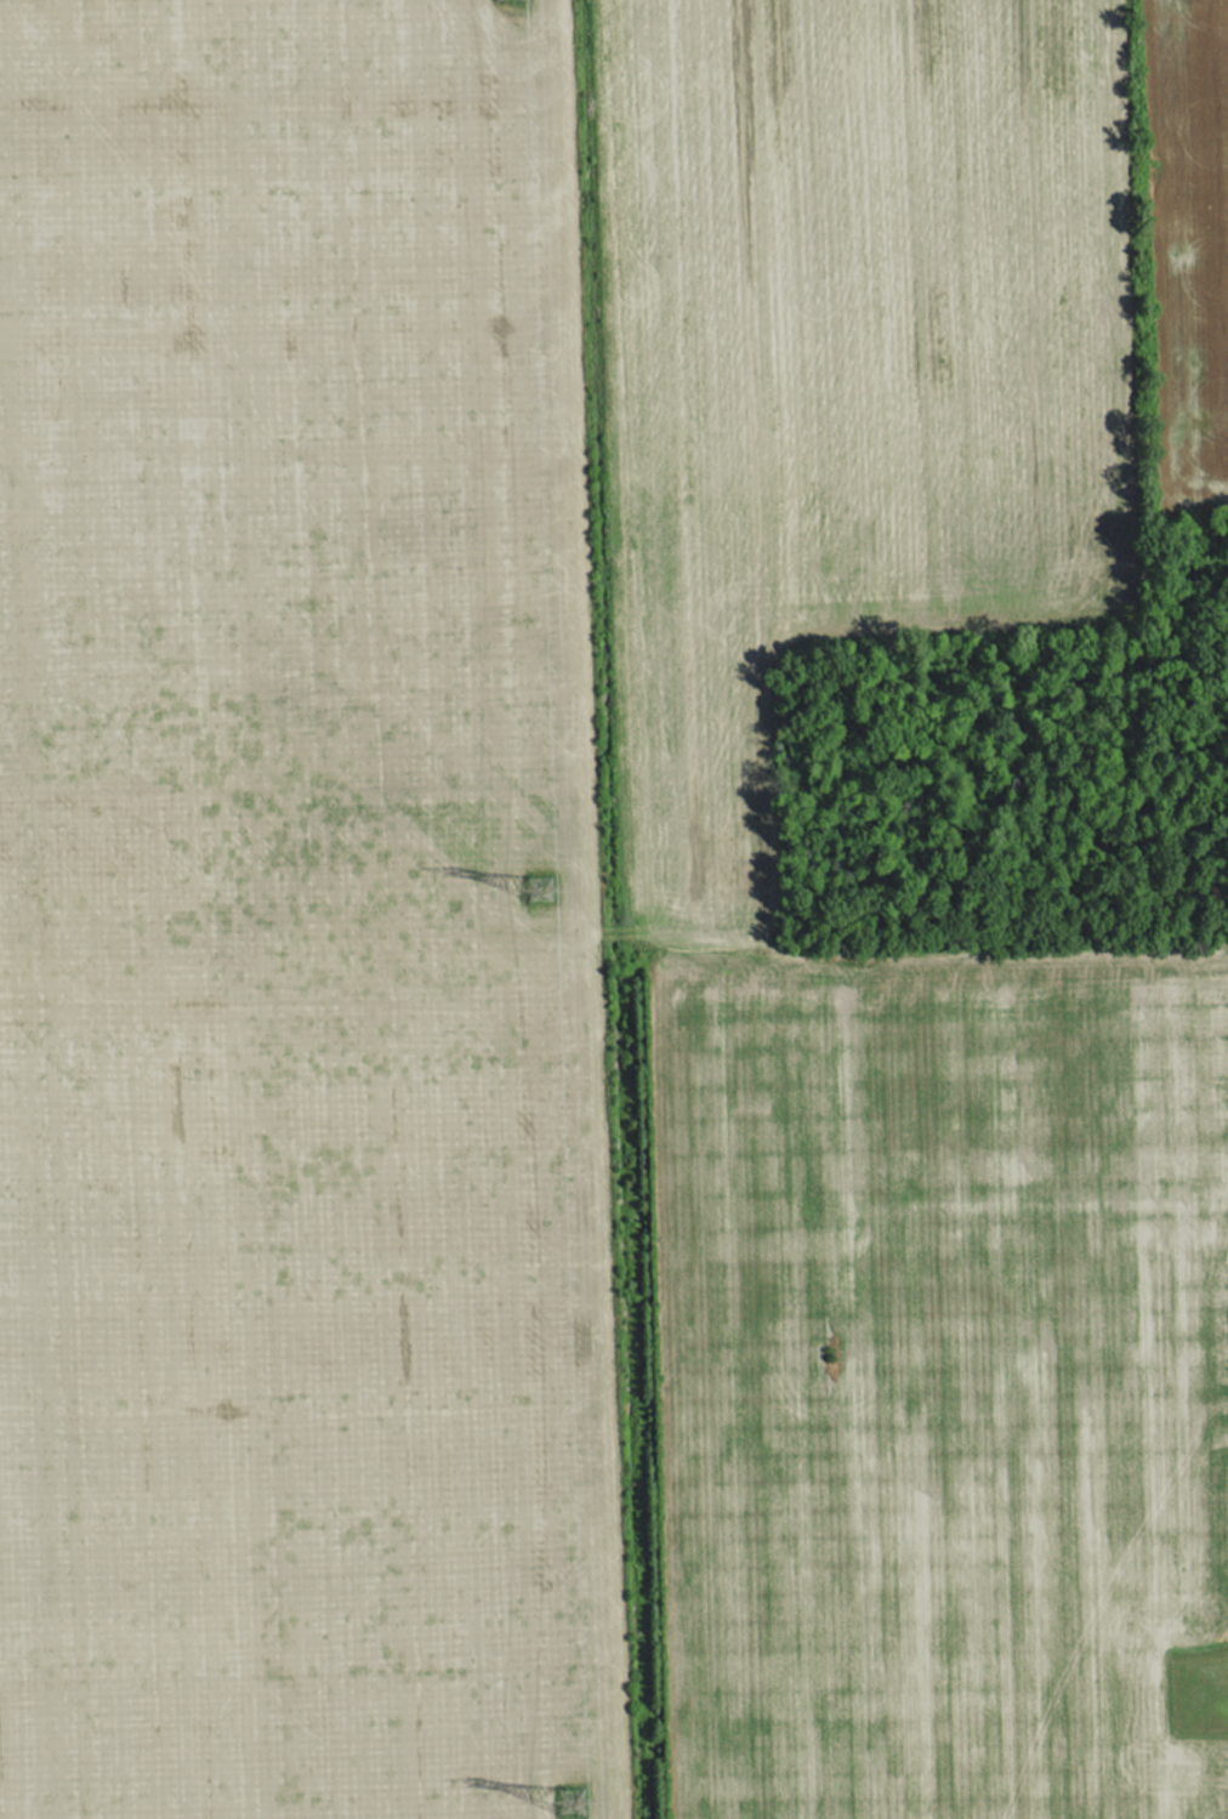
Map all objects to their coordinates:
crop: (1189, 241)
crop: (444, 781)
power tower: (535, 899)
crop: (939, 1380)
power tower: (574, 1797)

